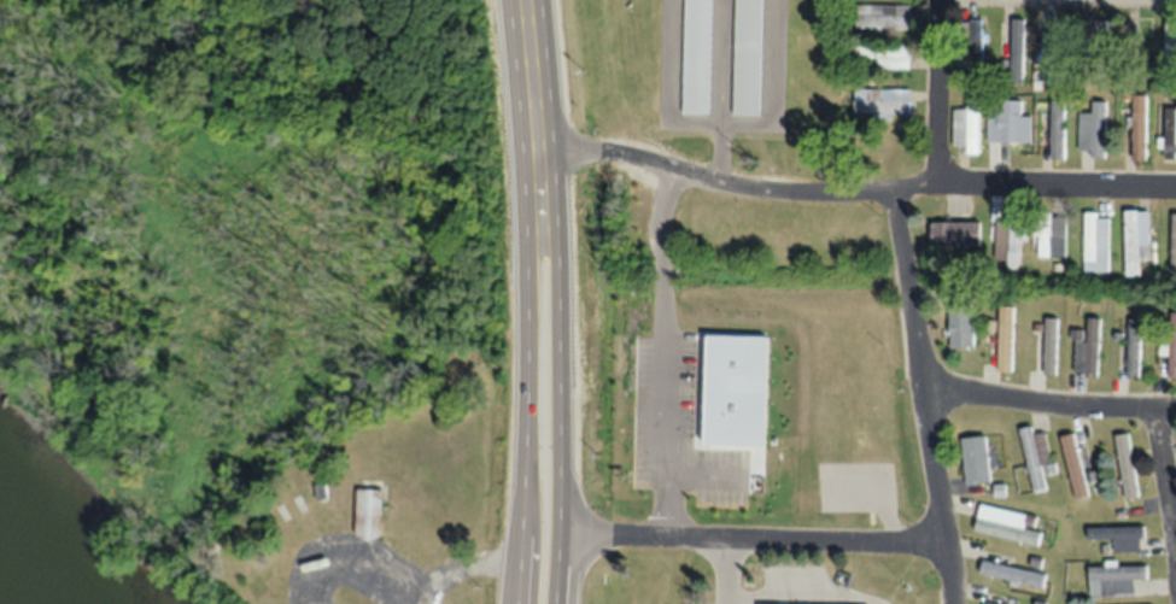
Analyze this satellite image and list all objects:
building: (884, 17)
building: (1096, 36)
building: (972, 42)
building: (1170, 42)
building: (1013, 51)
building: (883, 55)
building: (1053, 55)
building: (697, 57)
building: (748, 58)
road: (530, 76)
road: (941, 89)
building: (882, 102)
road: (672, 109)
building: (1010, 124)
building: (966, 128)
building: (1140, 128)
building: (1094, 129)
building: (1058, 130)
building: (1170, 134)
road: (1057, 181)
road: (735, 182)
building: (955, 234)
building: (1053, 239)
building: (1137, 241)
building: (1096, 242)
building: (1008, 244)
building: (1174, 244)
building: (961, 326)
building: (1006, 338)
building: (1051, 346)
building: (1134, 350)
building: (1170, 350)
building: (1088, 351)
road: (557, 376)
road: (523, 377)
road: (922, 393)
road: (1047, 400)
building: (1036, 456)
building: (976, 459)
building: (1075, 467)
building: (1127, 467)
road: (1165, 485)
building: (370, 514)
building: (1008, 532)
road: (754, 535)
building: (1121, 536)
road: (456, 567)
road: (725, 569)
building: (1012, 574)
building: (1114, 579)
river: (6, 594)
building: (765, 603)
building: (988, 603)

